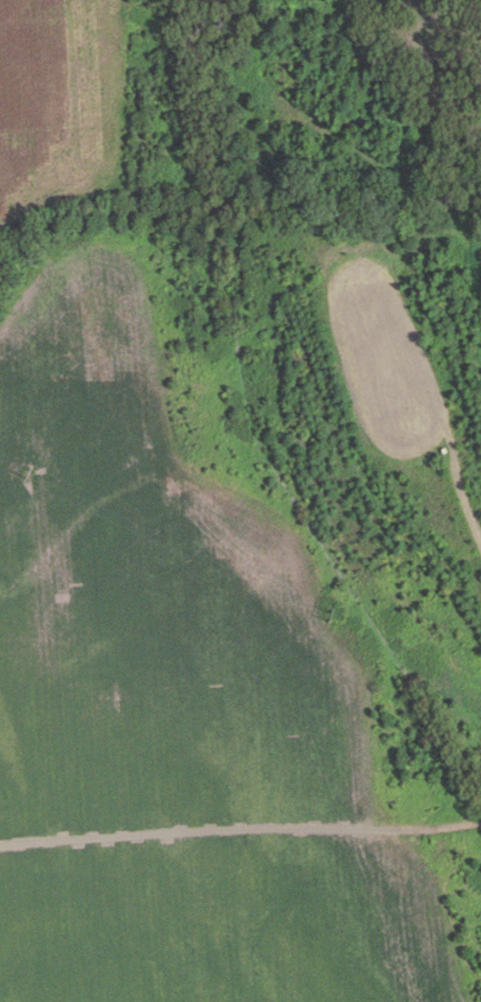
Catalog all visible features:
road: (240, 825)

